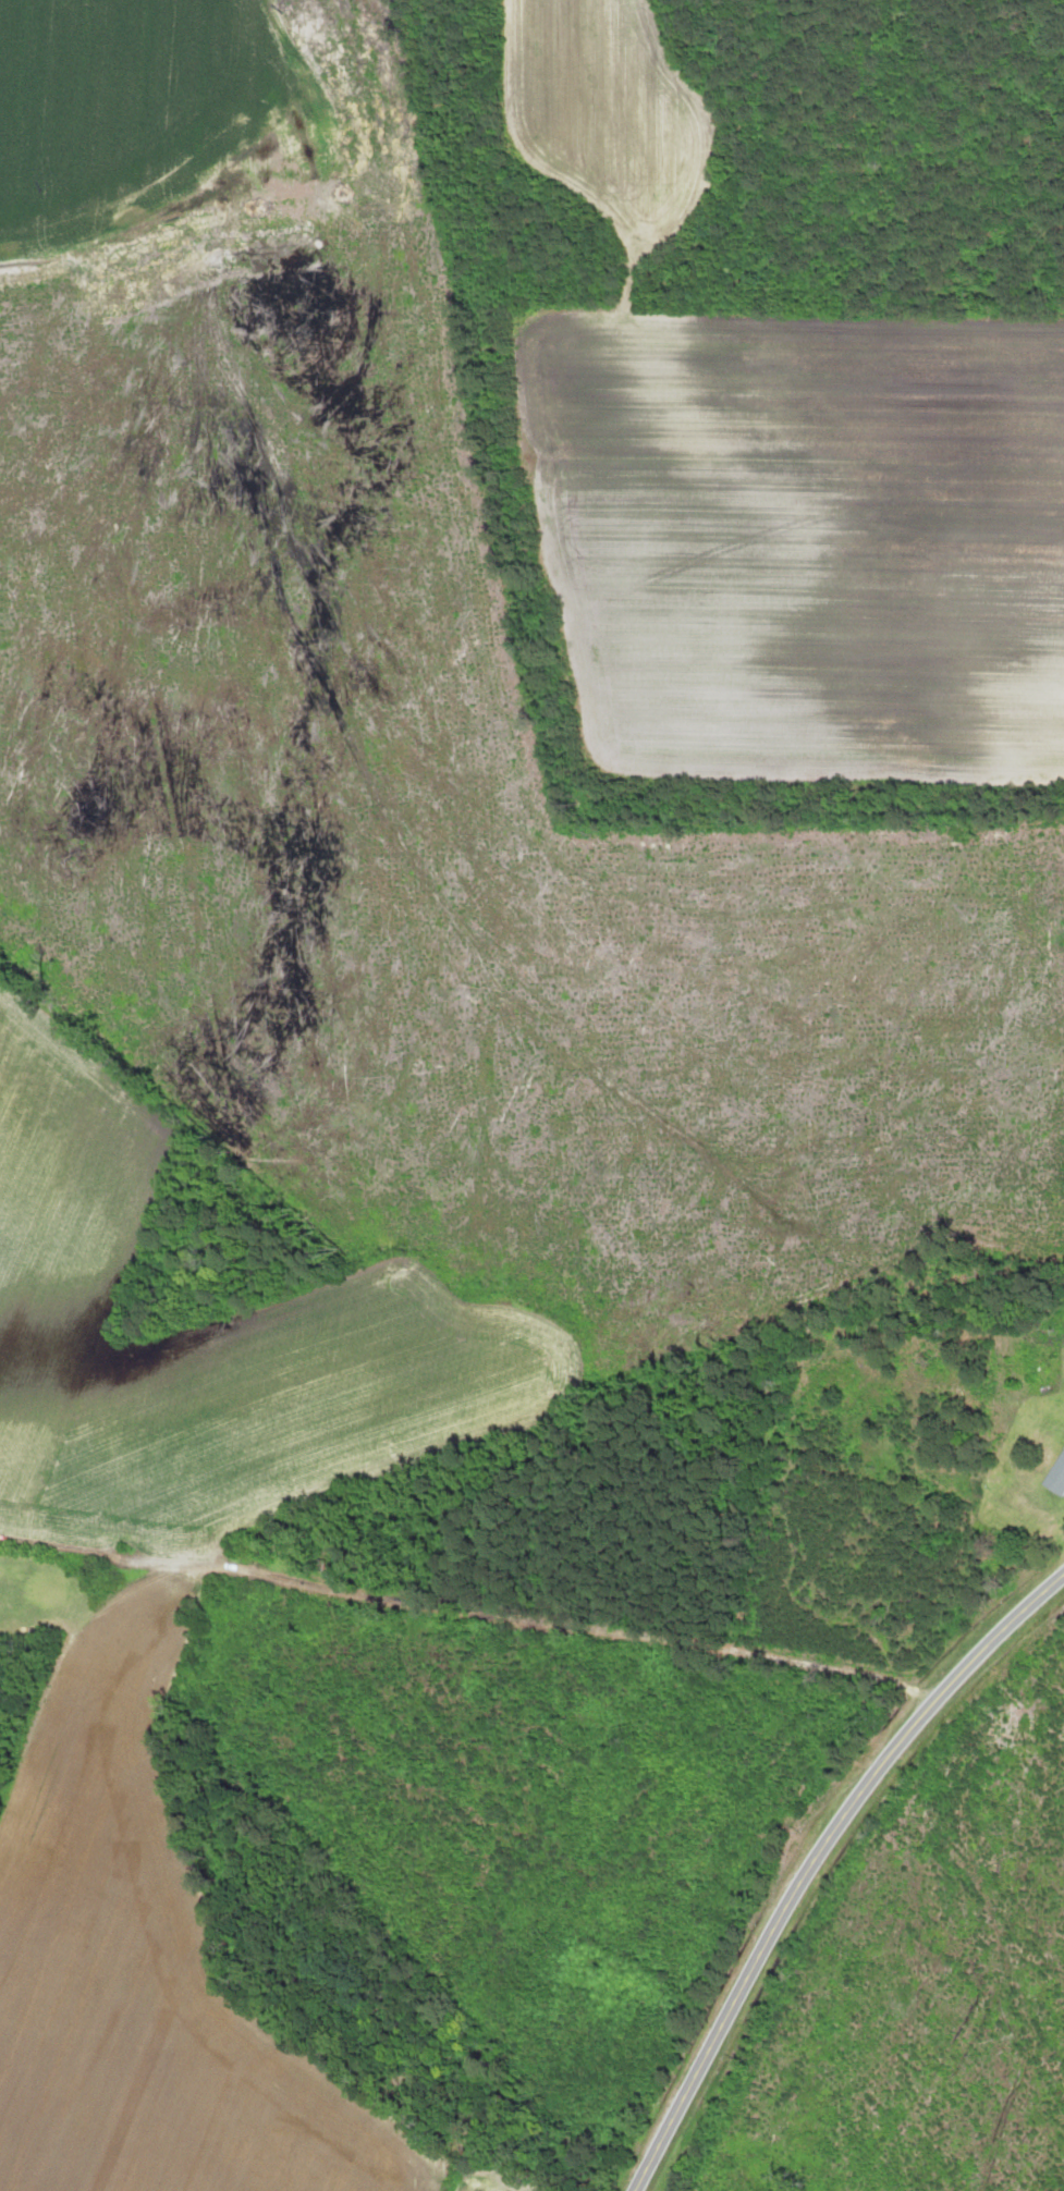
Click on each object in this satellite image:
building: (1055, 1476)
road: (811, 1856)

